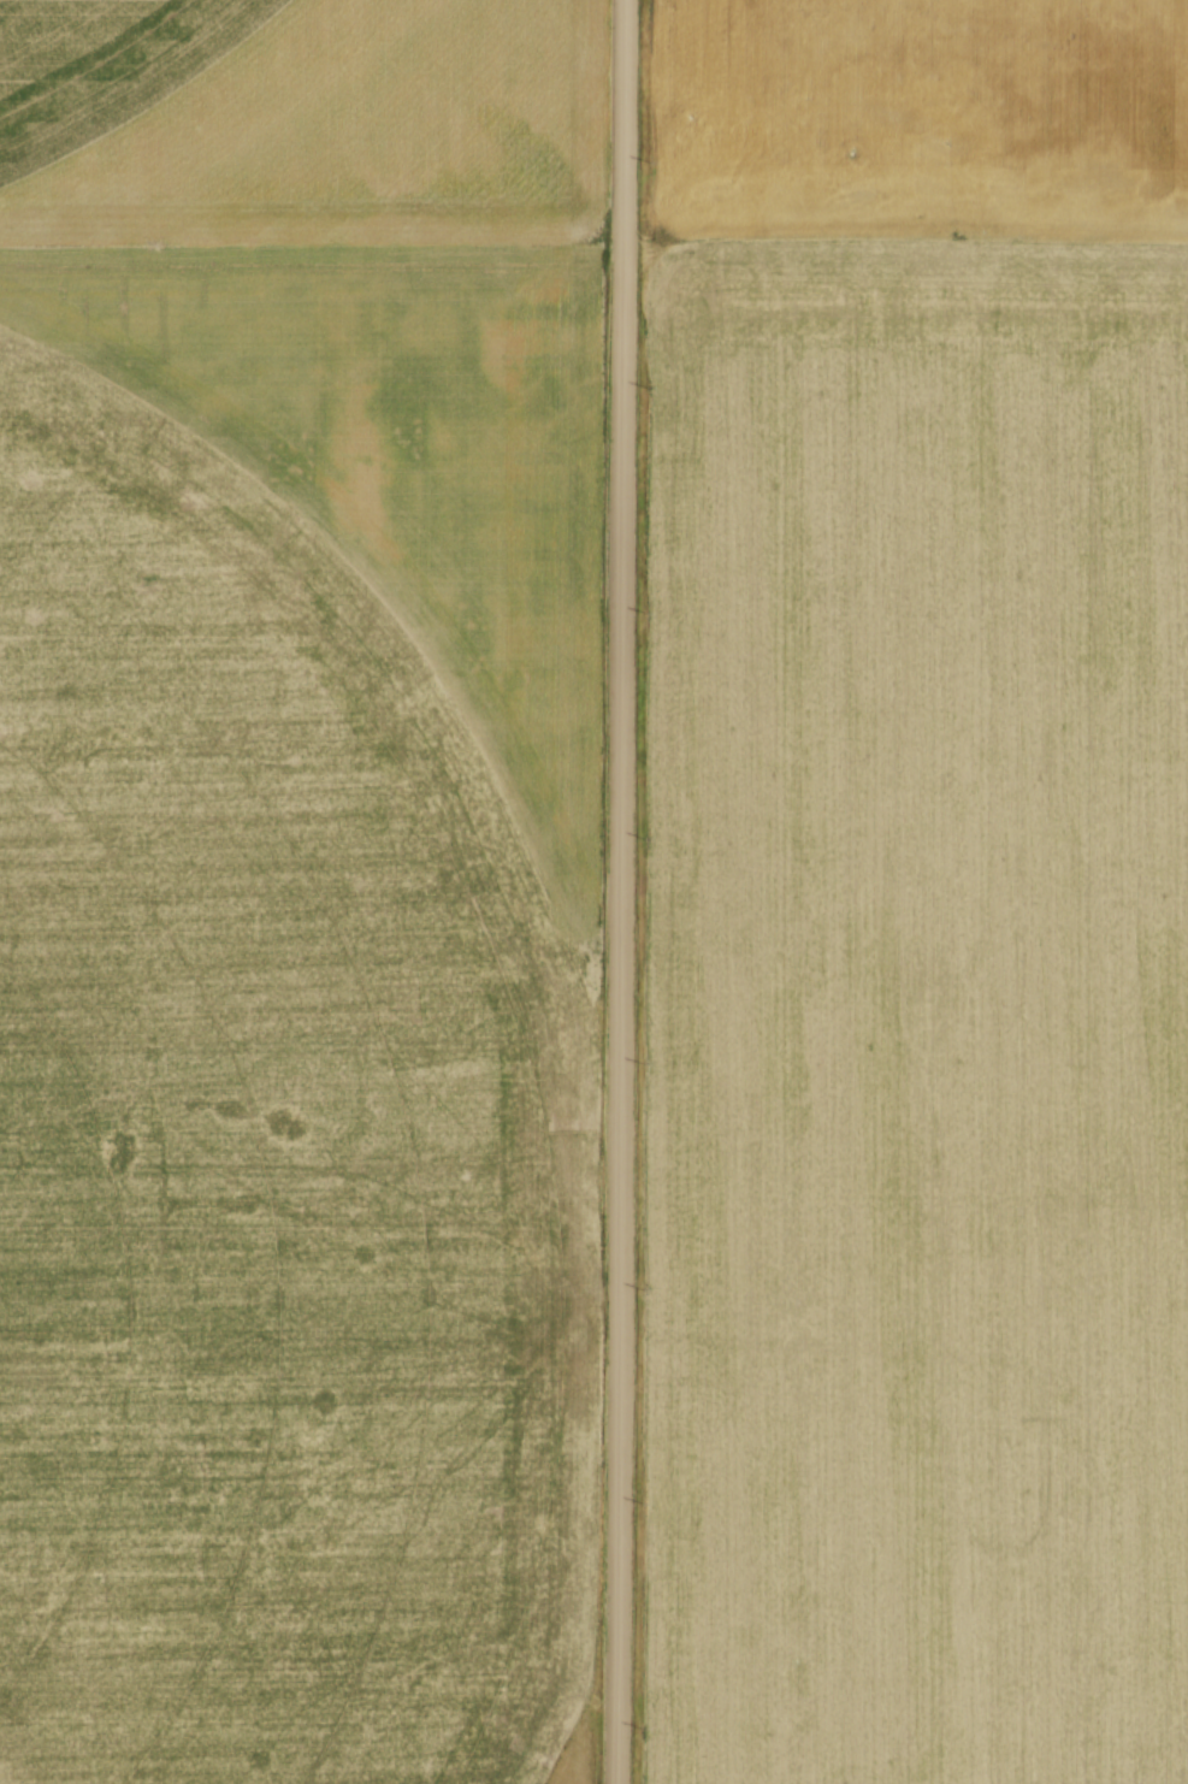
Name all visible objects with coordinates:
crop: (297, 887)
road: (621, 891)
crop: (917, 894)

